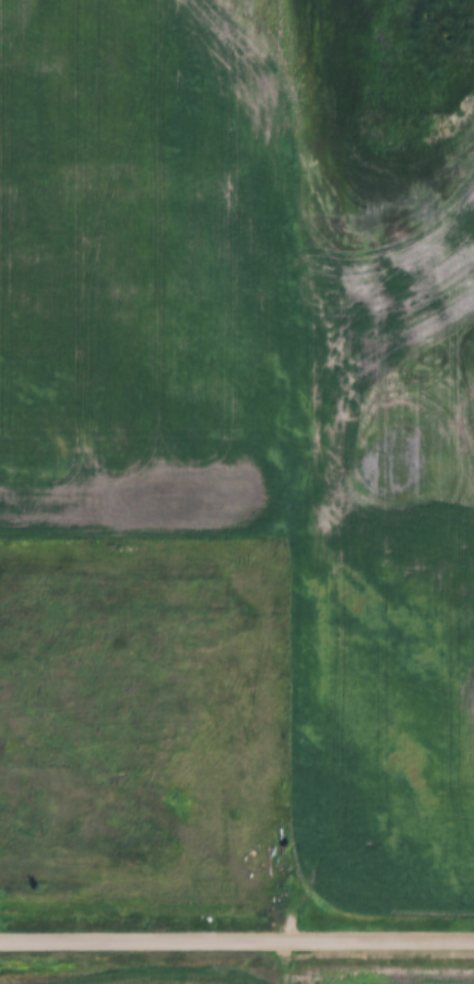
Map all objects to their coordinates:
road: (237, 937)

